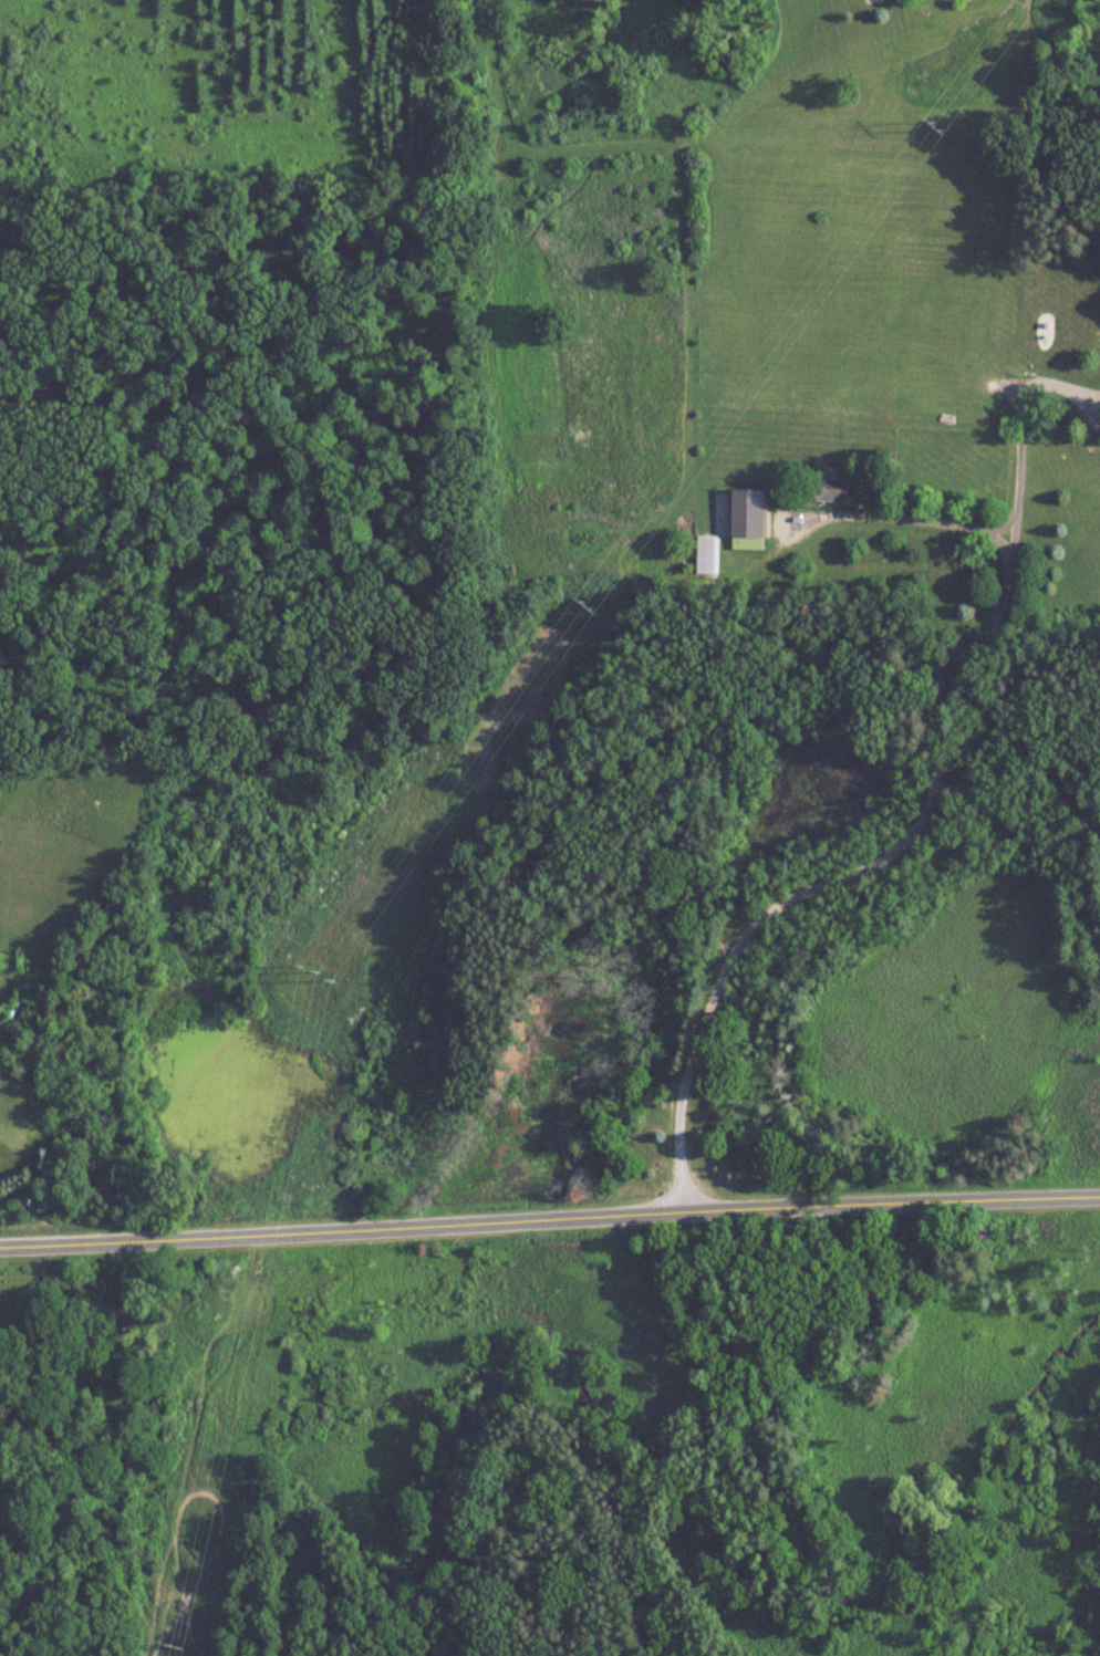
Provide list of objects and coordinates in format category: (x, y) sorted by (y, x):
power tower: (936, 126)
road: (1018, 437)
building: (829, 488)
building: (749, 513)
building: (705, 554)
power tower: (593, 601)
road: (920, 811)
power tower: (325, 977)
road: (549, 1222)
power tower: (174, 1637)

